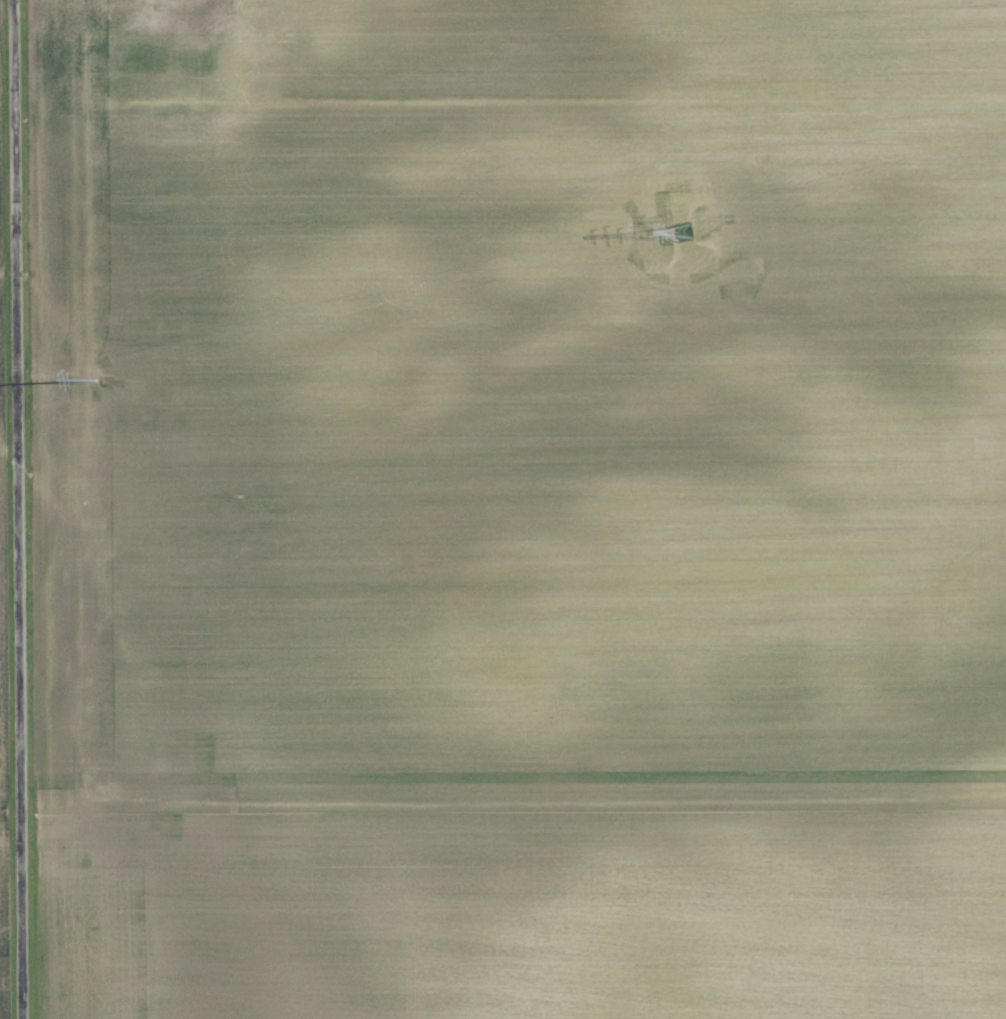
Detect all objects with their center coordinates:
building: (142, 11)
power tower: (680, 232)
power tower: (67, 385)
road: (24, 509)

